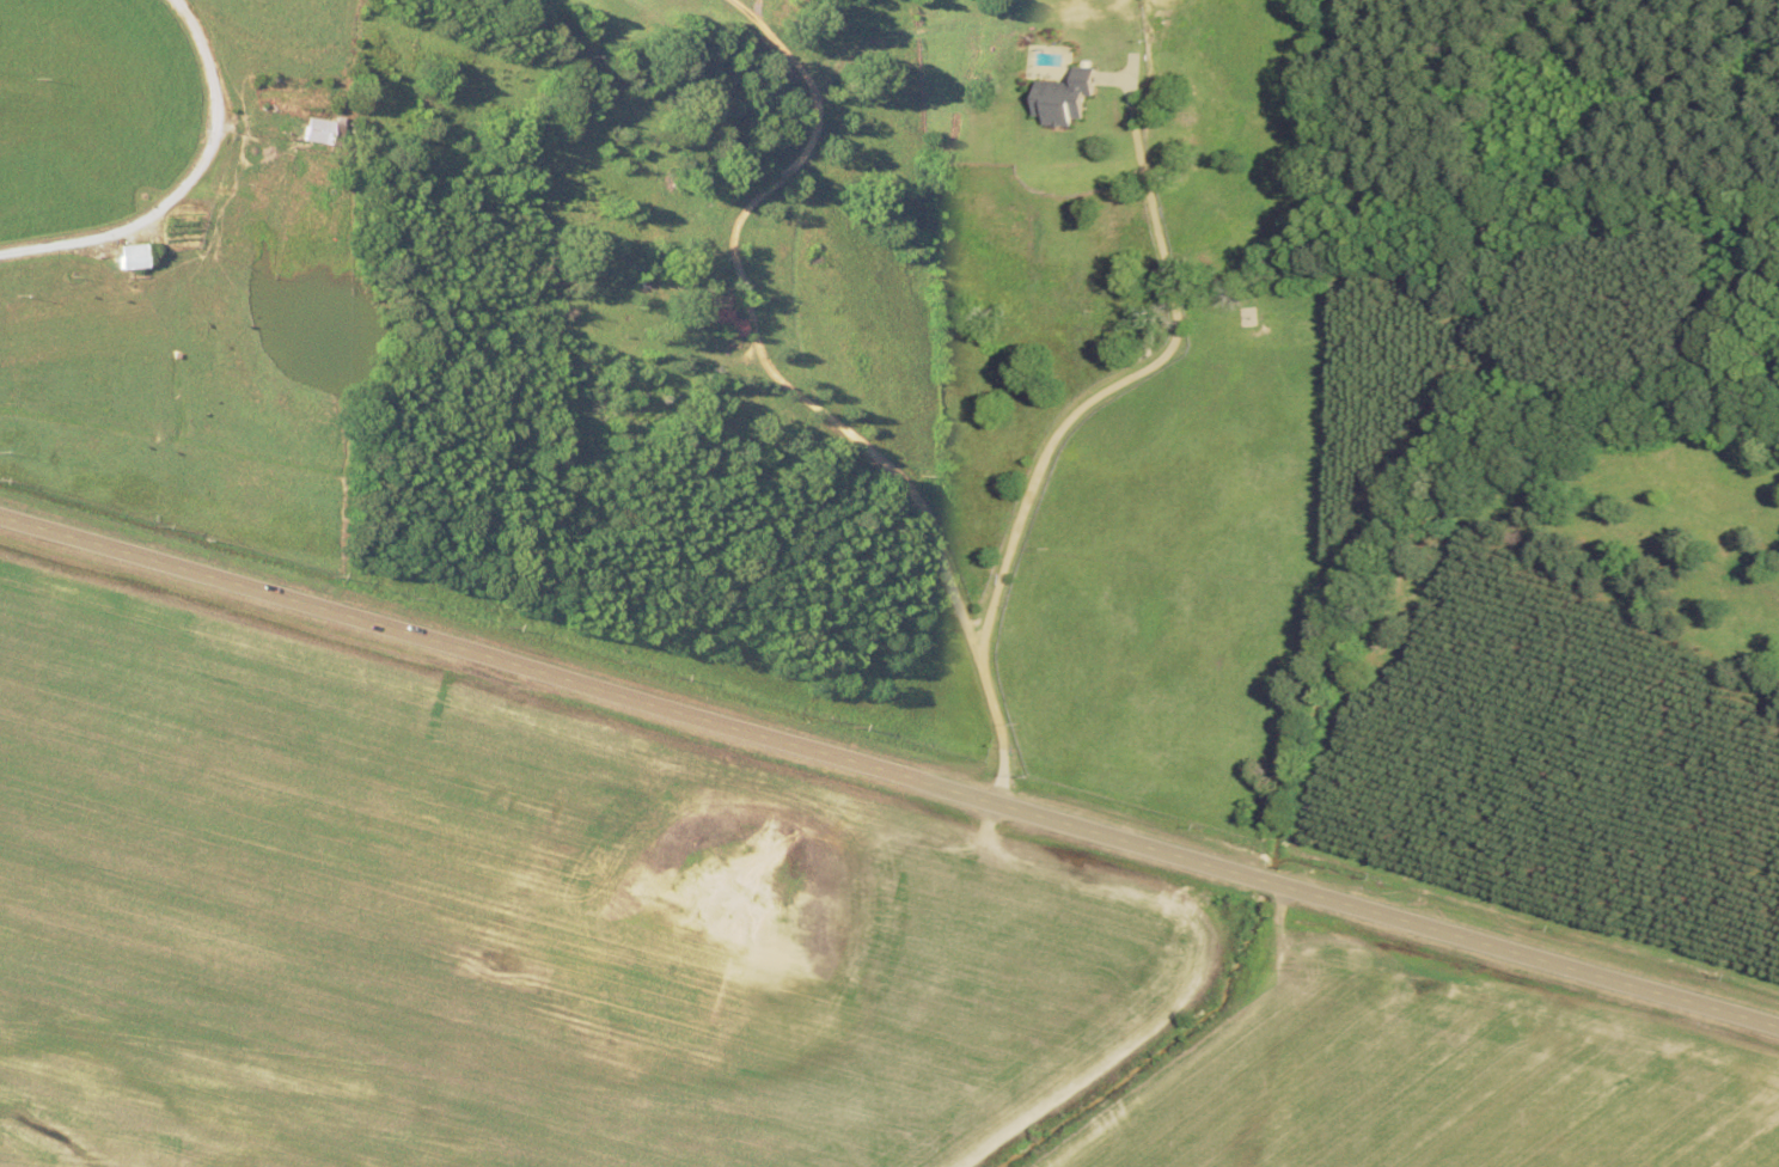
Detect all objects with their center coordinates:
building: (1065, 98)
building: (317, 130)
building: (128, 257)
building: (628, 268)
road: (889, 762)

